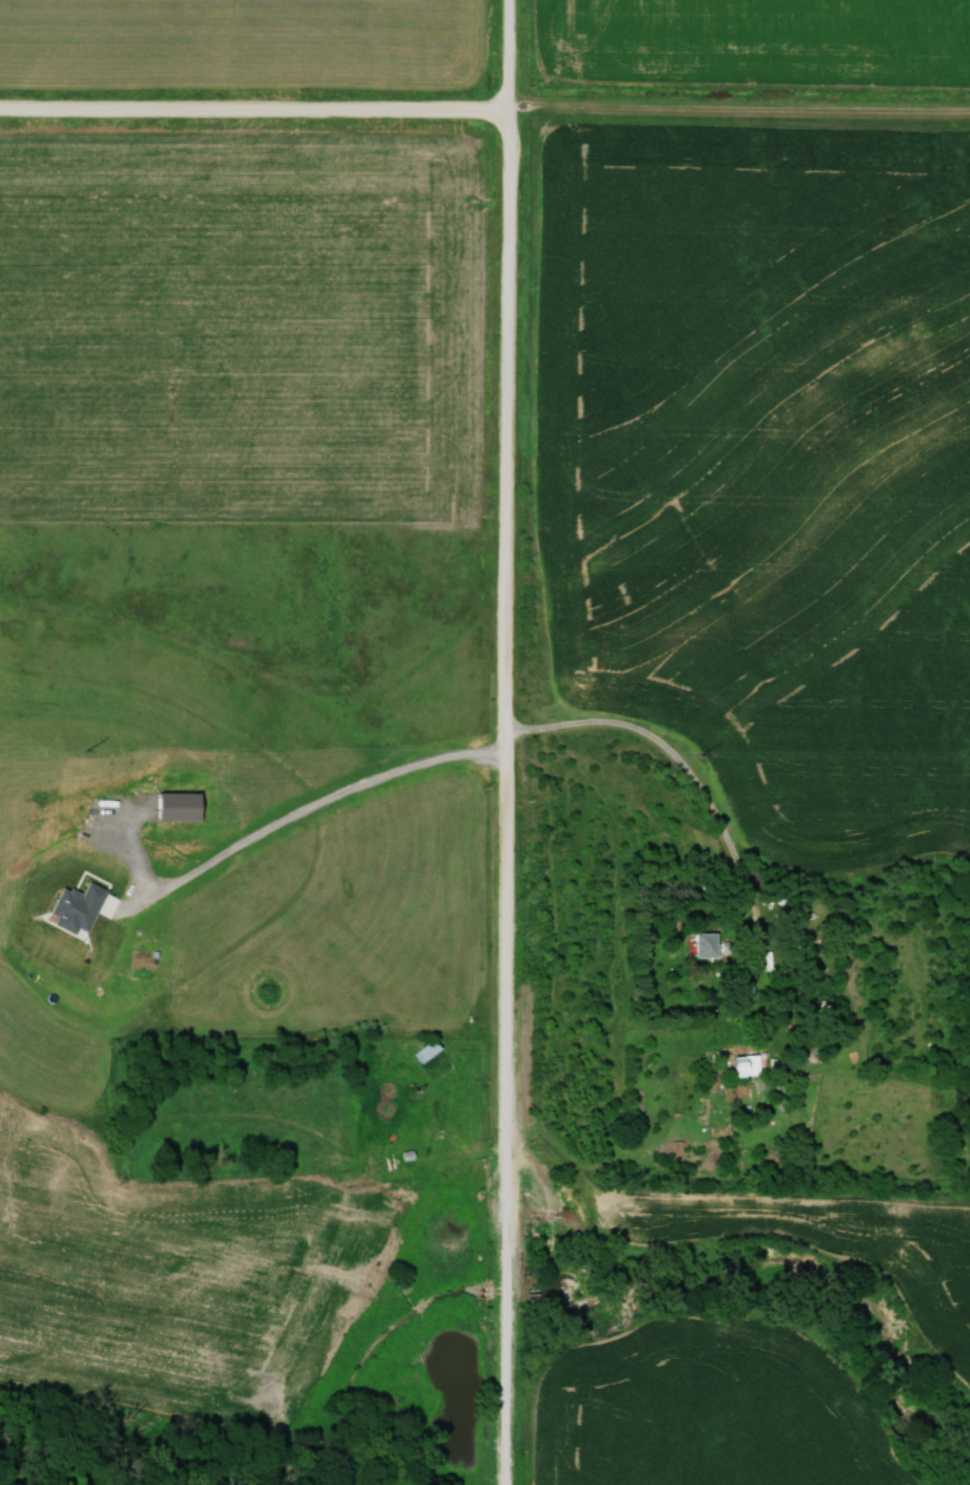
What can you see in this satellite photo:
road: (255, 103)
crop: (241, 328)
road: (509, 742)
road: (684, 769)
building: (710, 945)
building: (431, 1051)
crop: (170, 1276)

